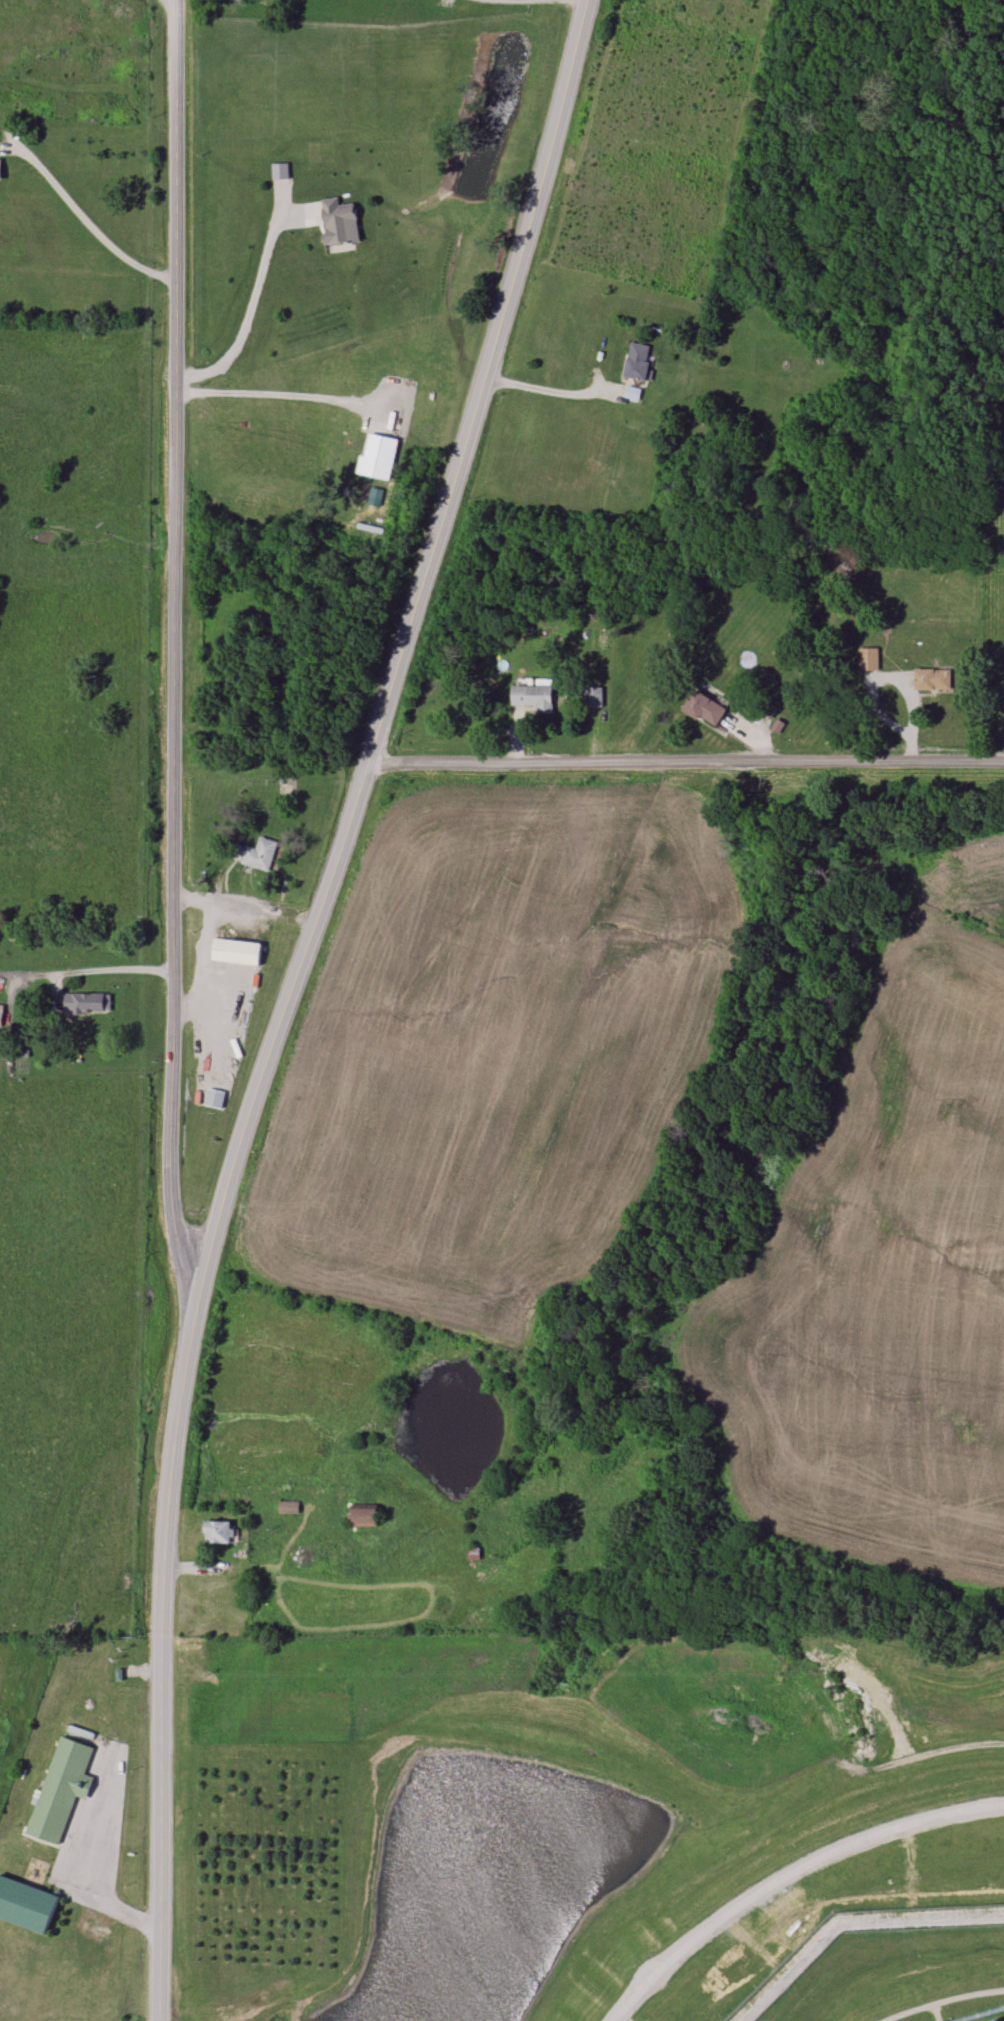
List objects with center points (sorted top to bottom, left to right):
road: (536, 1)
building: (0, 170)
road: (84, 220)
building: (339, 222)
road: (245, 311)
building: (637, 361)
road: (558, 394)
road: (275, 399)
building: (377, 457)
road: (174, 647)
road: (405, 651)
building: (868, 659)
building: (932, 679)
road: (895, 680)
building: (535, 696)
building: (593, 698)
road: (913, 745)
road: (686, 761)
building: (260, 855)
road: (245, 907)
building: (236, 952)
road: (87, 972)
road: (57, 994)
building: (83, 1003)
building: (0, 1015)
crop: (495, 1052)
building: (288, 1507)
building: (363, 1515)
building: (218, 1532)
road: (161, 1655)
road: (916, 1758)
building: (61, 1789)
road: (81, 1868)
road: (790, 1878)
building: (26, 1903)
road: (941, 2001)
building: (996, 2020)

